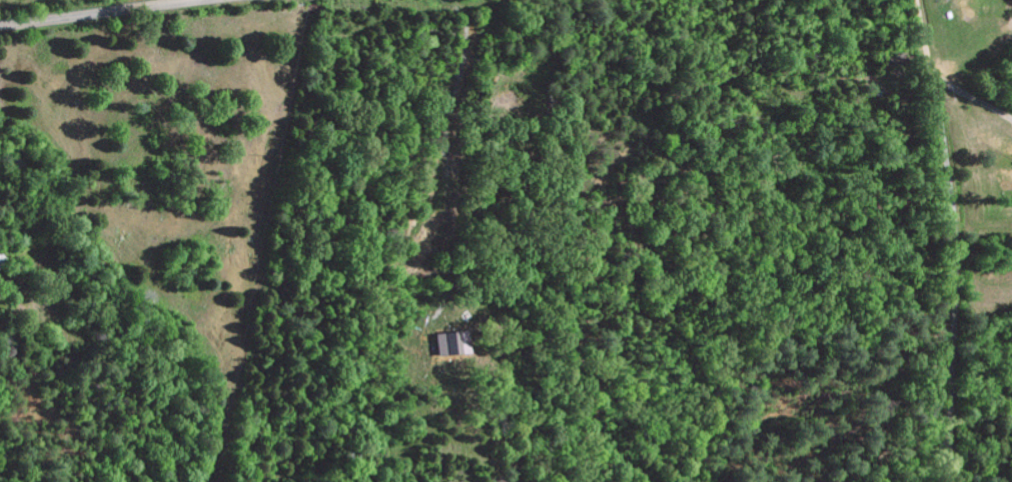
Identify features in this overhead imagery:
road: (96, 13)
road: (951, 241)
building: (454, 343)

